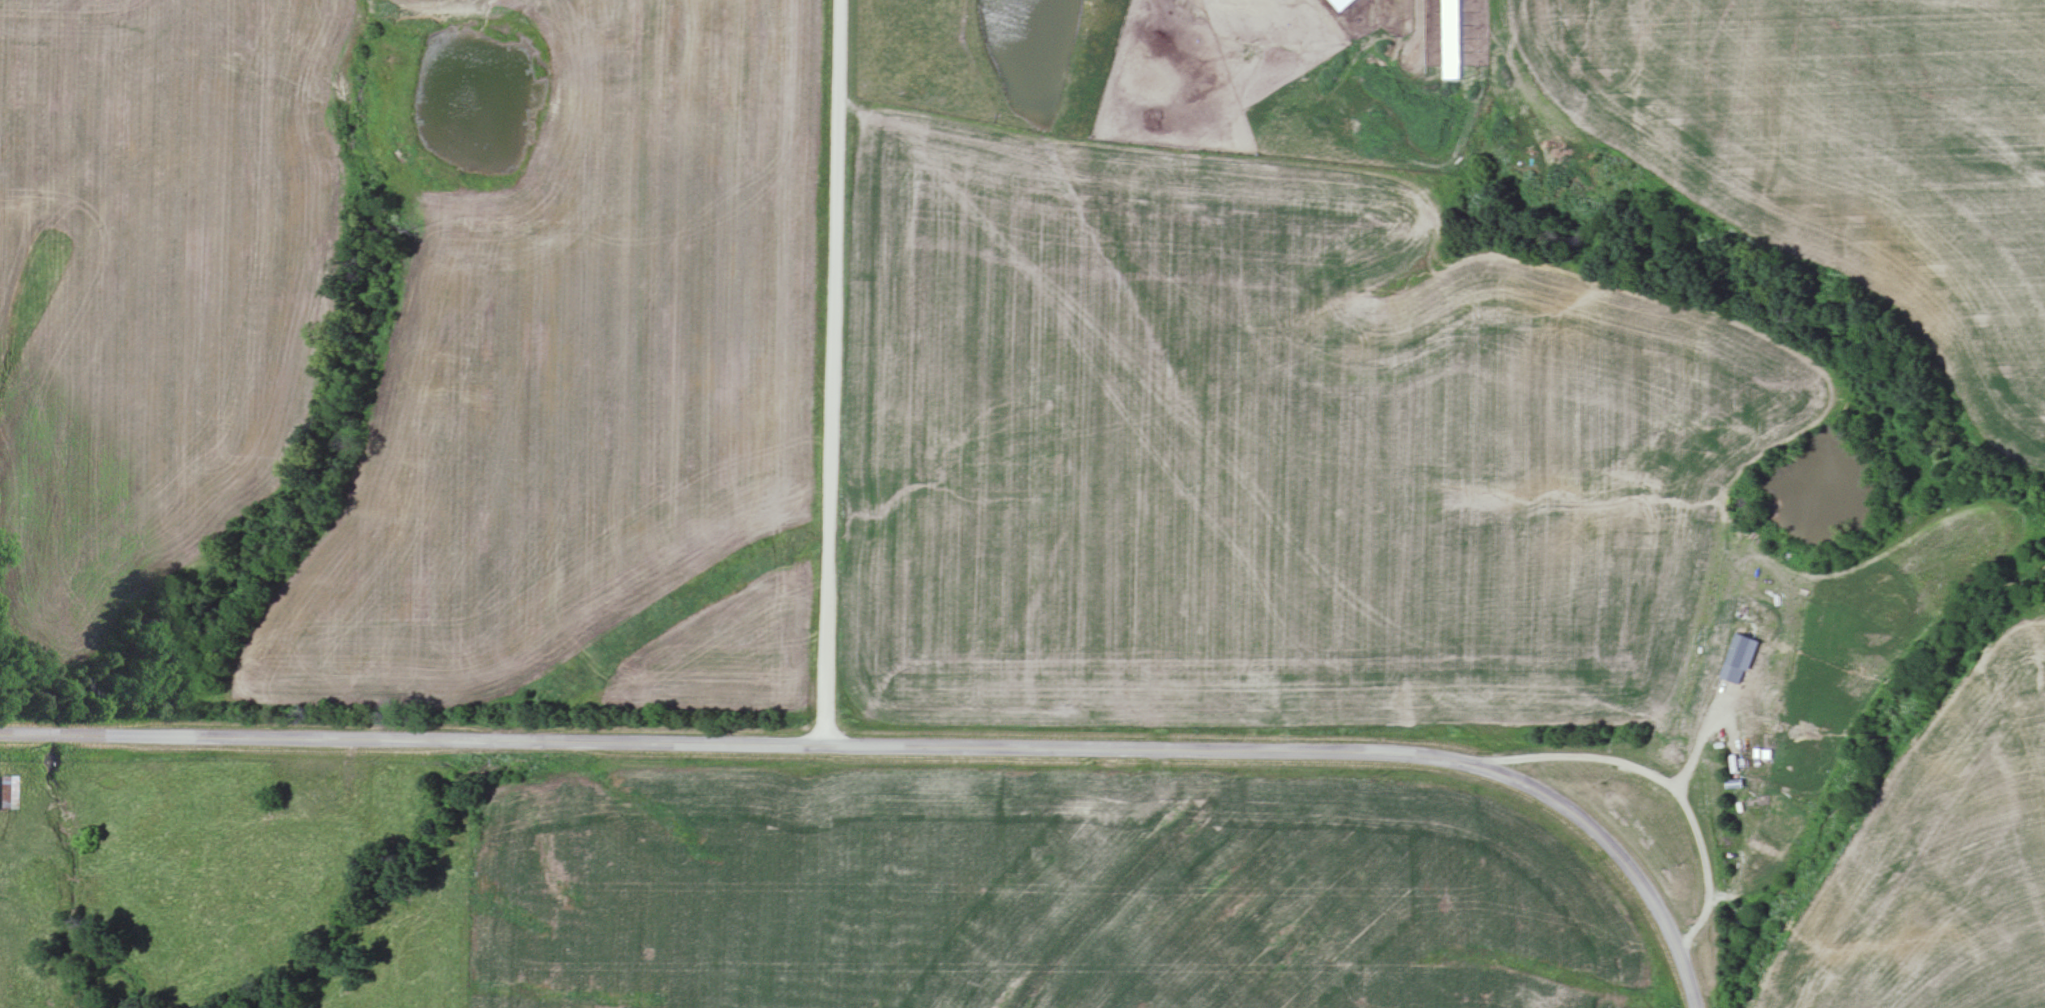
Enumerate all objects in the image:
building: (1341, 3)
road: (823, 371)
road: (912, 743)
building: (5, 791)
building: (318, 794)

